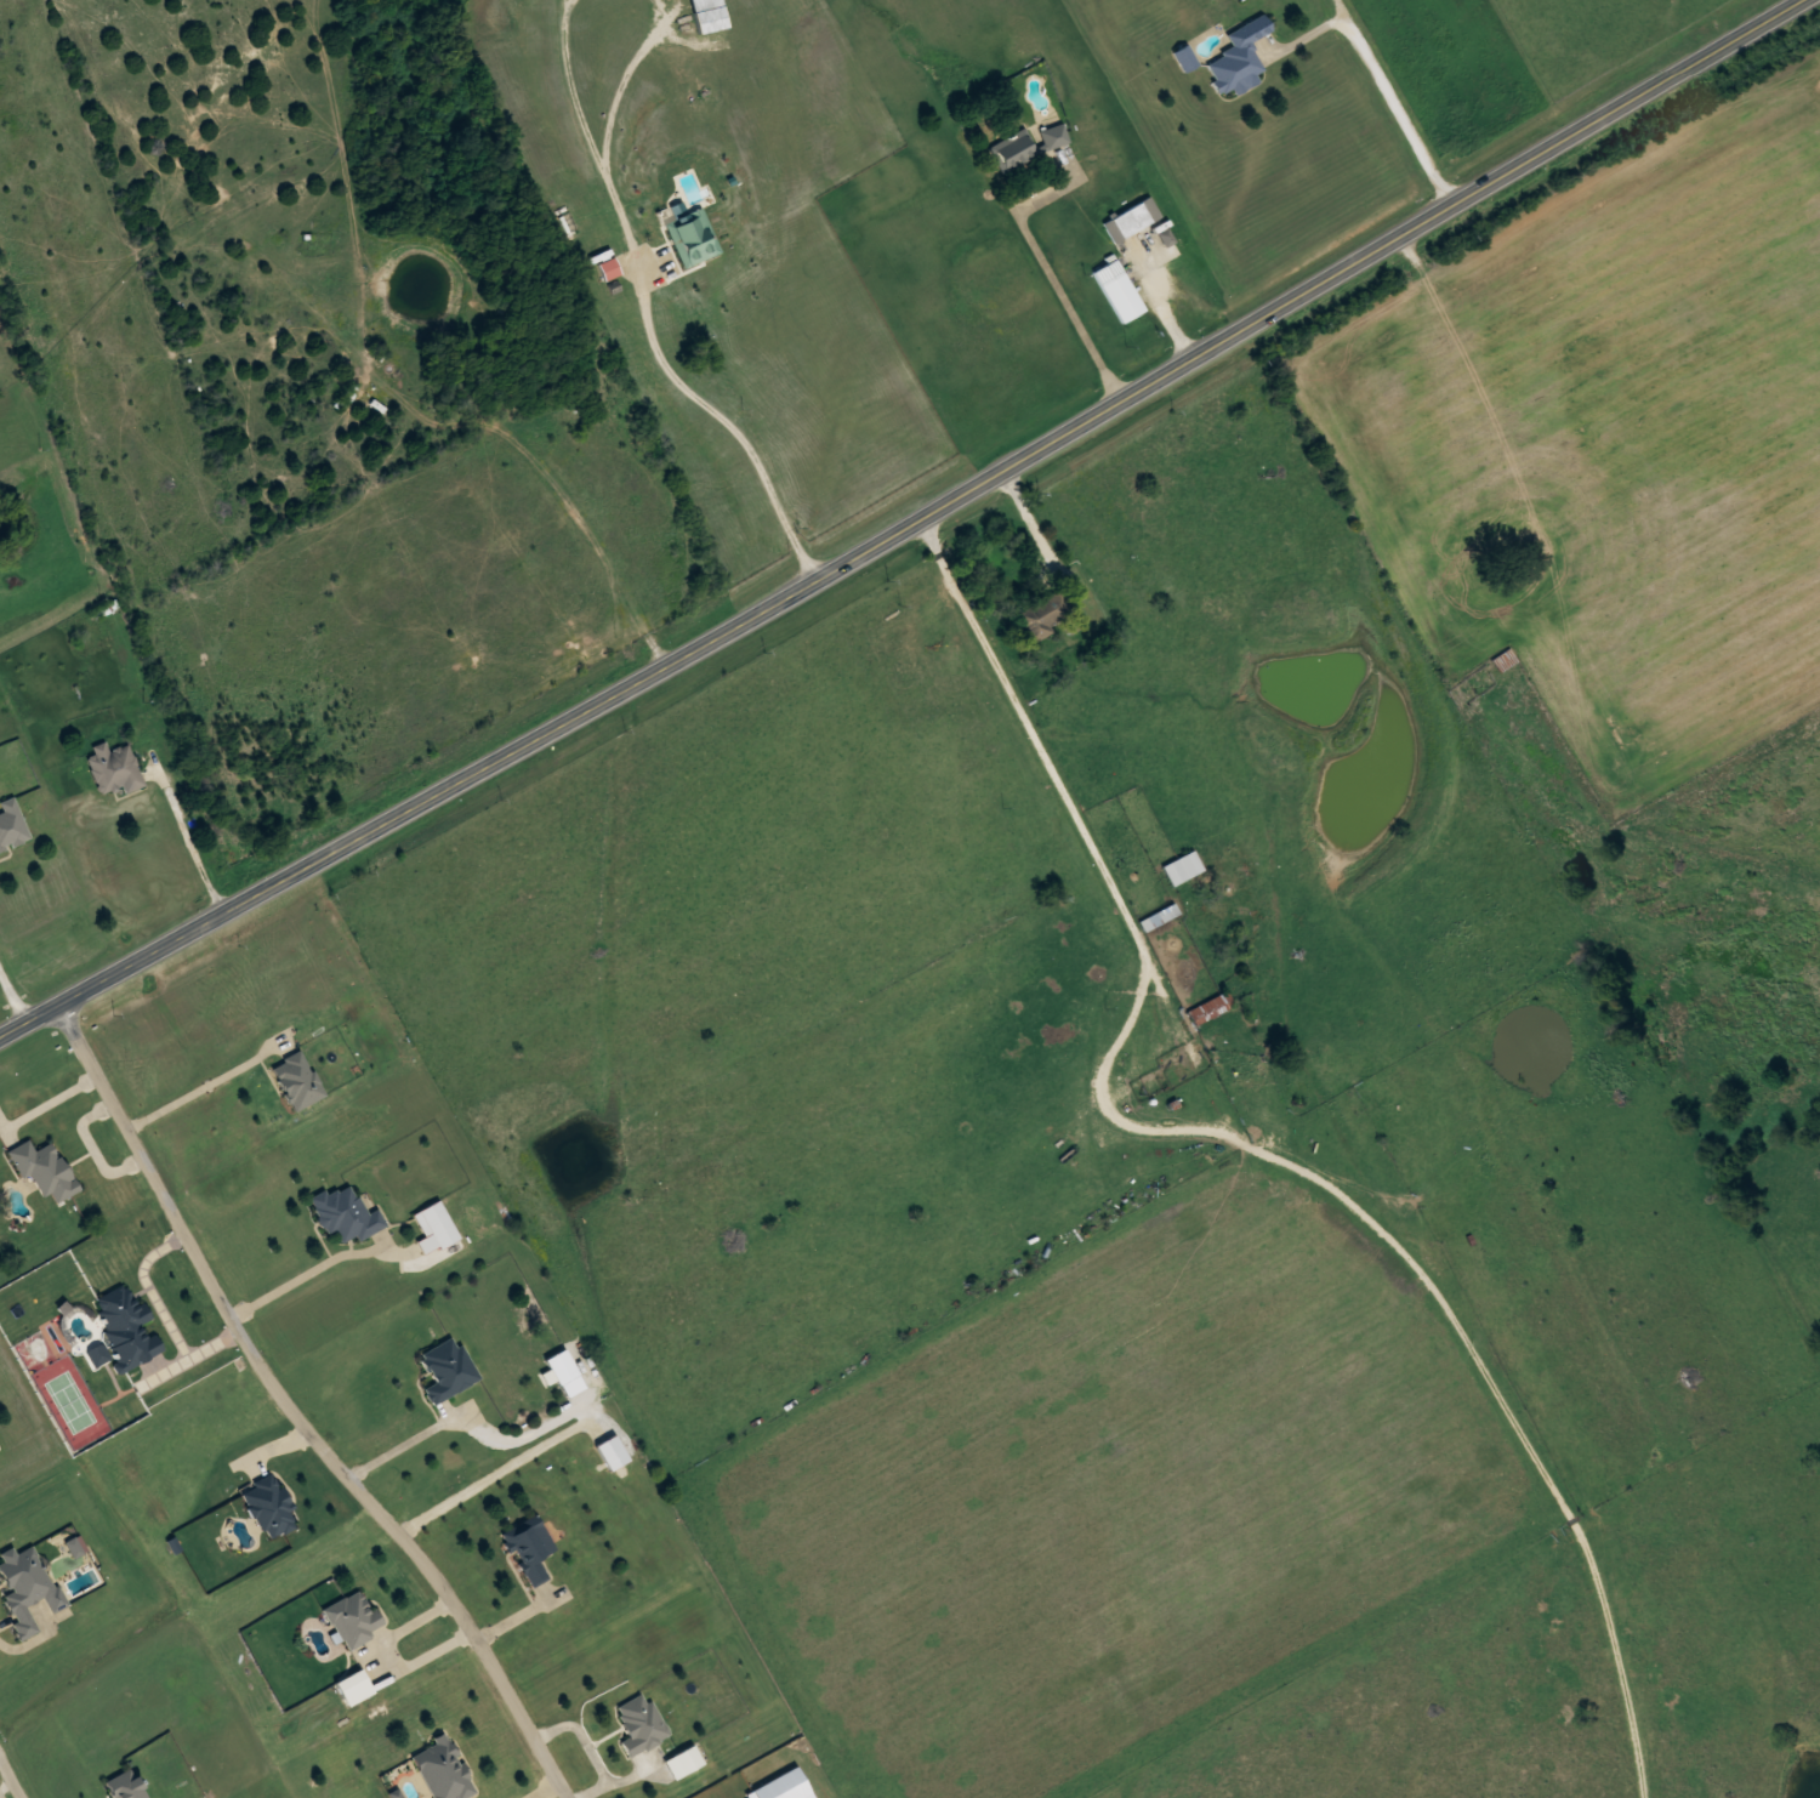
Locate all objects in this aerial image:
building: (1239, 57)
building: (1184, 58)
building: (1054, 137)
building: (1013, 152)
building: (1131, 220)
building: (693, 237)
building: (612, 268)
building: (1117, 291)
road: (902, 527)
building: (1043, 614)
building: (1503, 660)
road: (1048, 767)
building: (114, 768)
building: (11, 823)
building: (1182, 867)
building: (1158, 917)
building: (1207, 1009)
building: (44, 1168)
building: (346, 1214)
building: (438, 1225)
building: (121, 1314)
building: (98, 1355)
building: (562, 1367)
building: (448, 1369)
road: (297, 1411)
building: (613, 1452)
building: (530, 1548)
building: (27, 1587)
building: (353, 1618)
building: (641, 1724)
building: (443, 1769)
road: (11, 1776)
building: (126, 1786)

